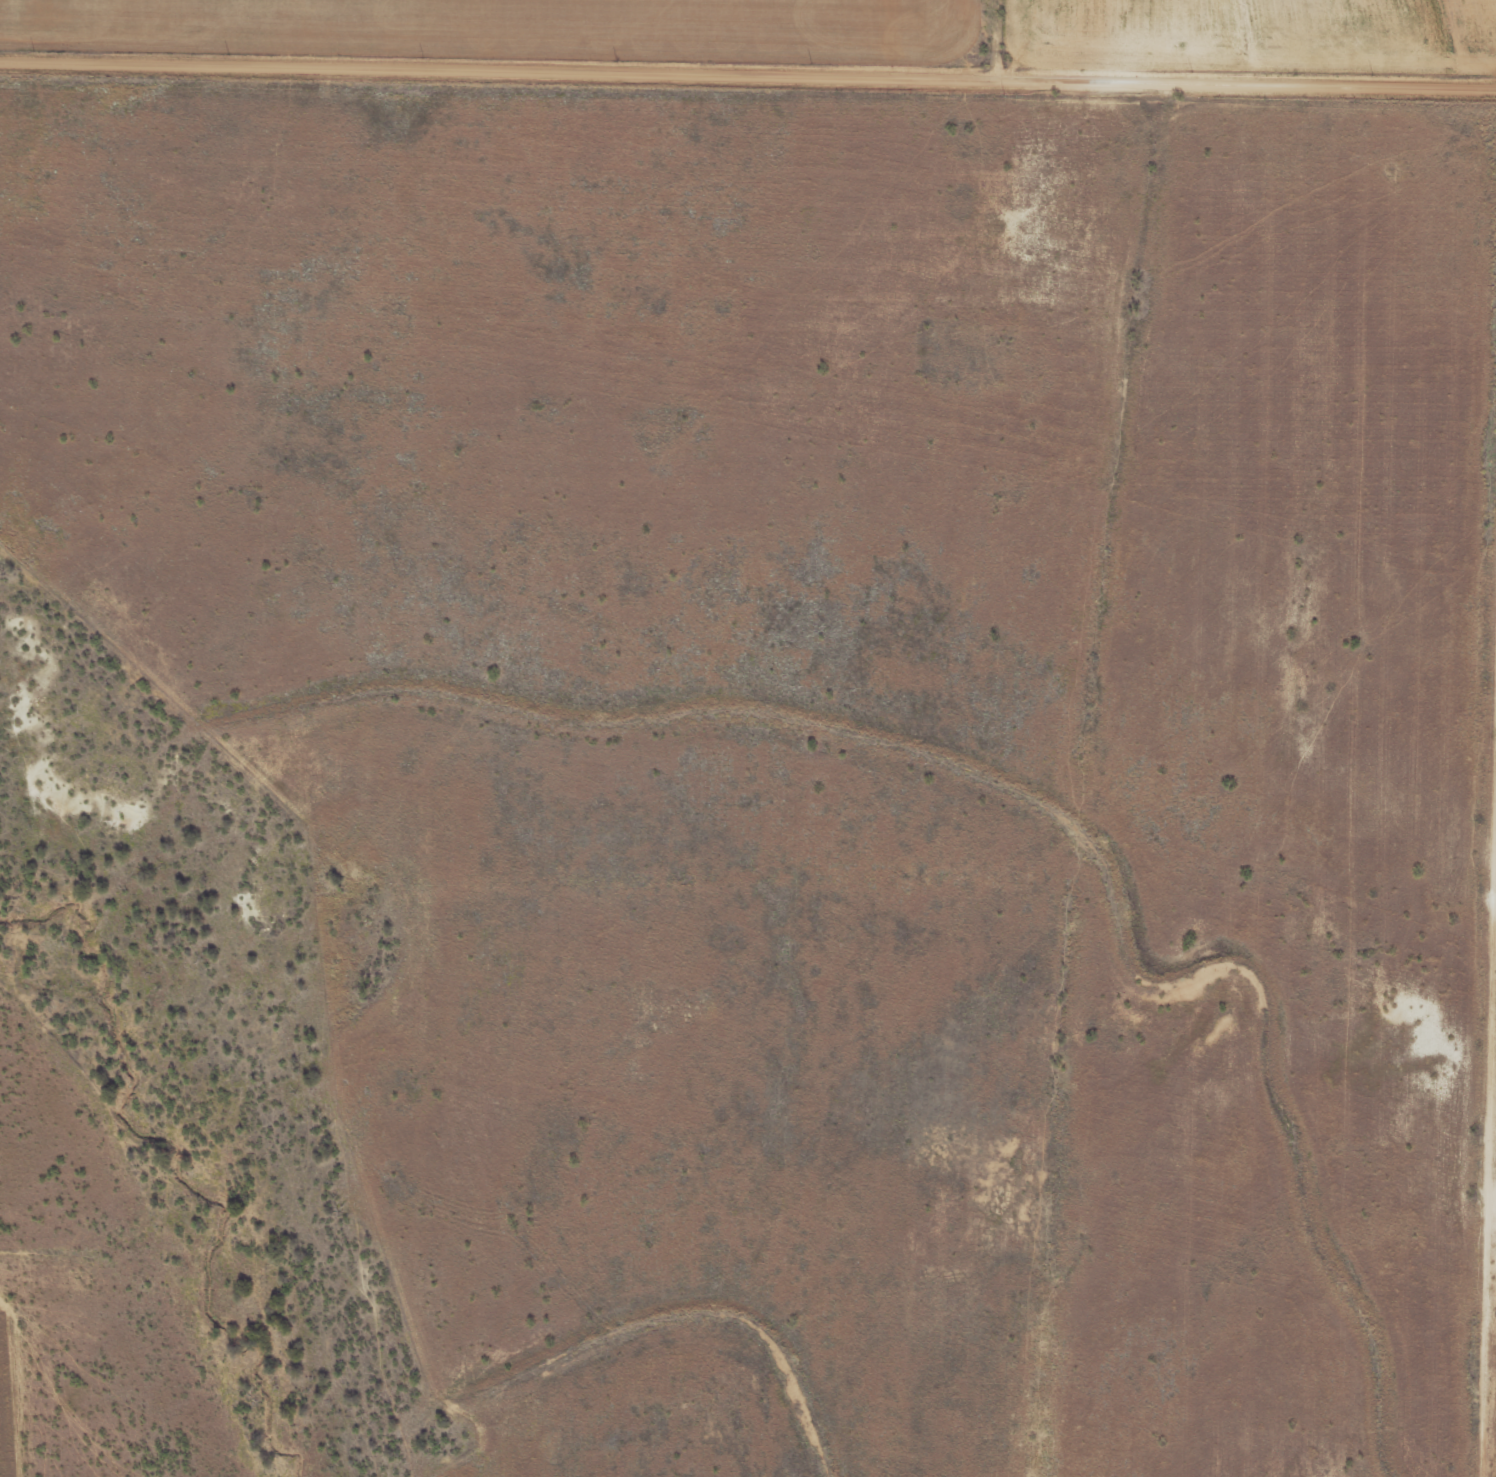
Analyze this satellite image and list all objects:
road: (957, 39)
road: (747, 74)

